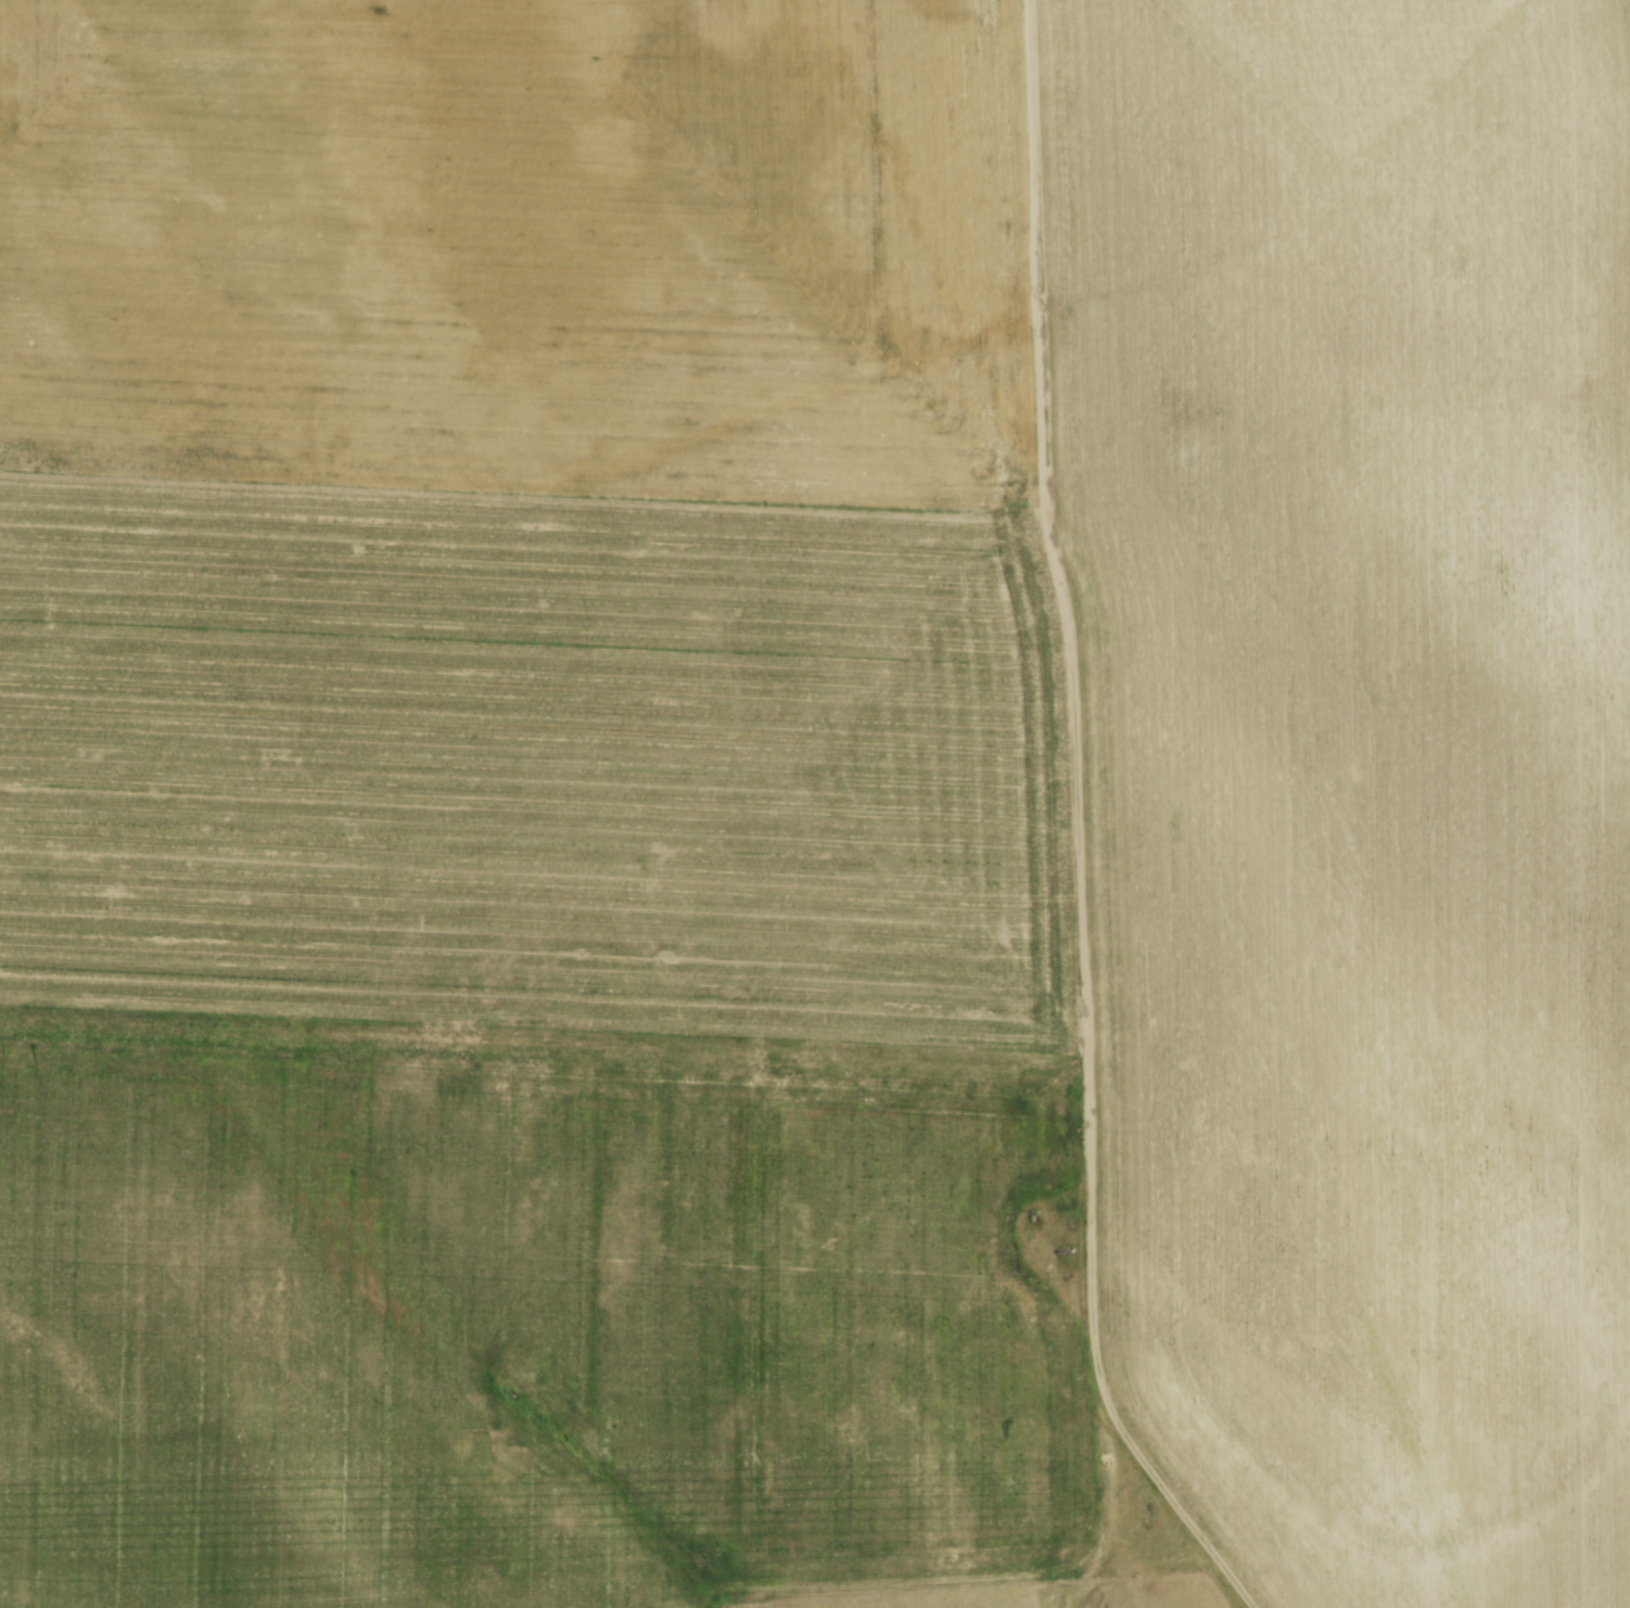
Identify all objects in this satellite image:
crop: (810, 791)

